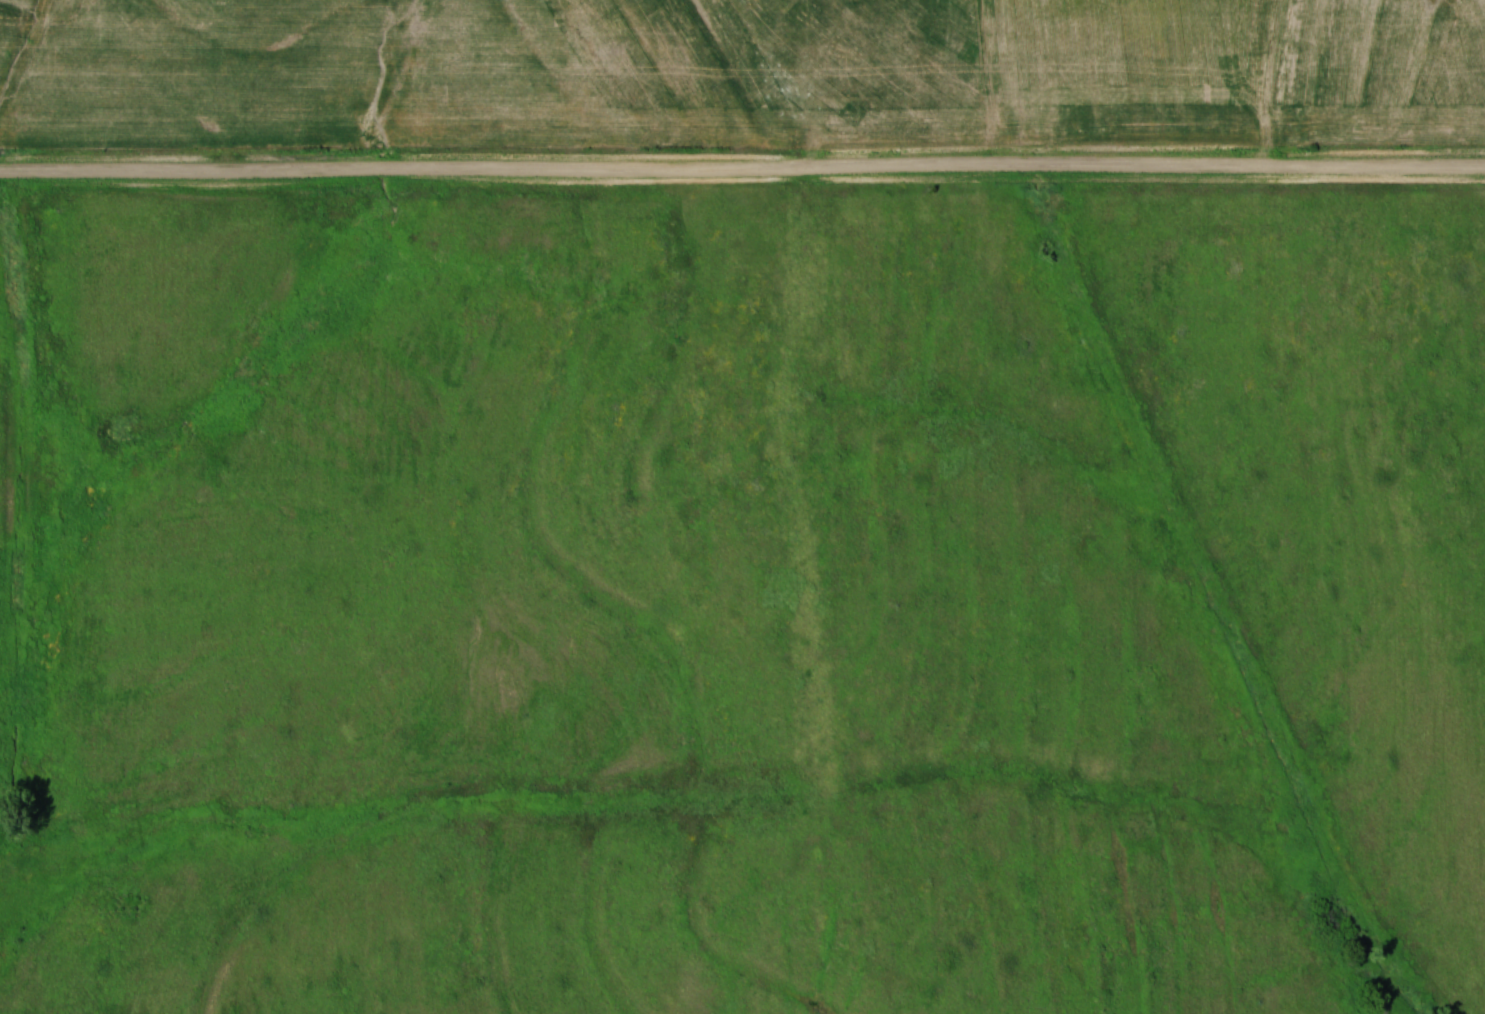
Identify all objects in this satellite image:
road: (742, 169)

